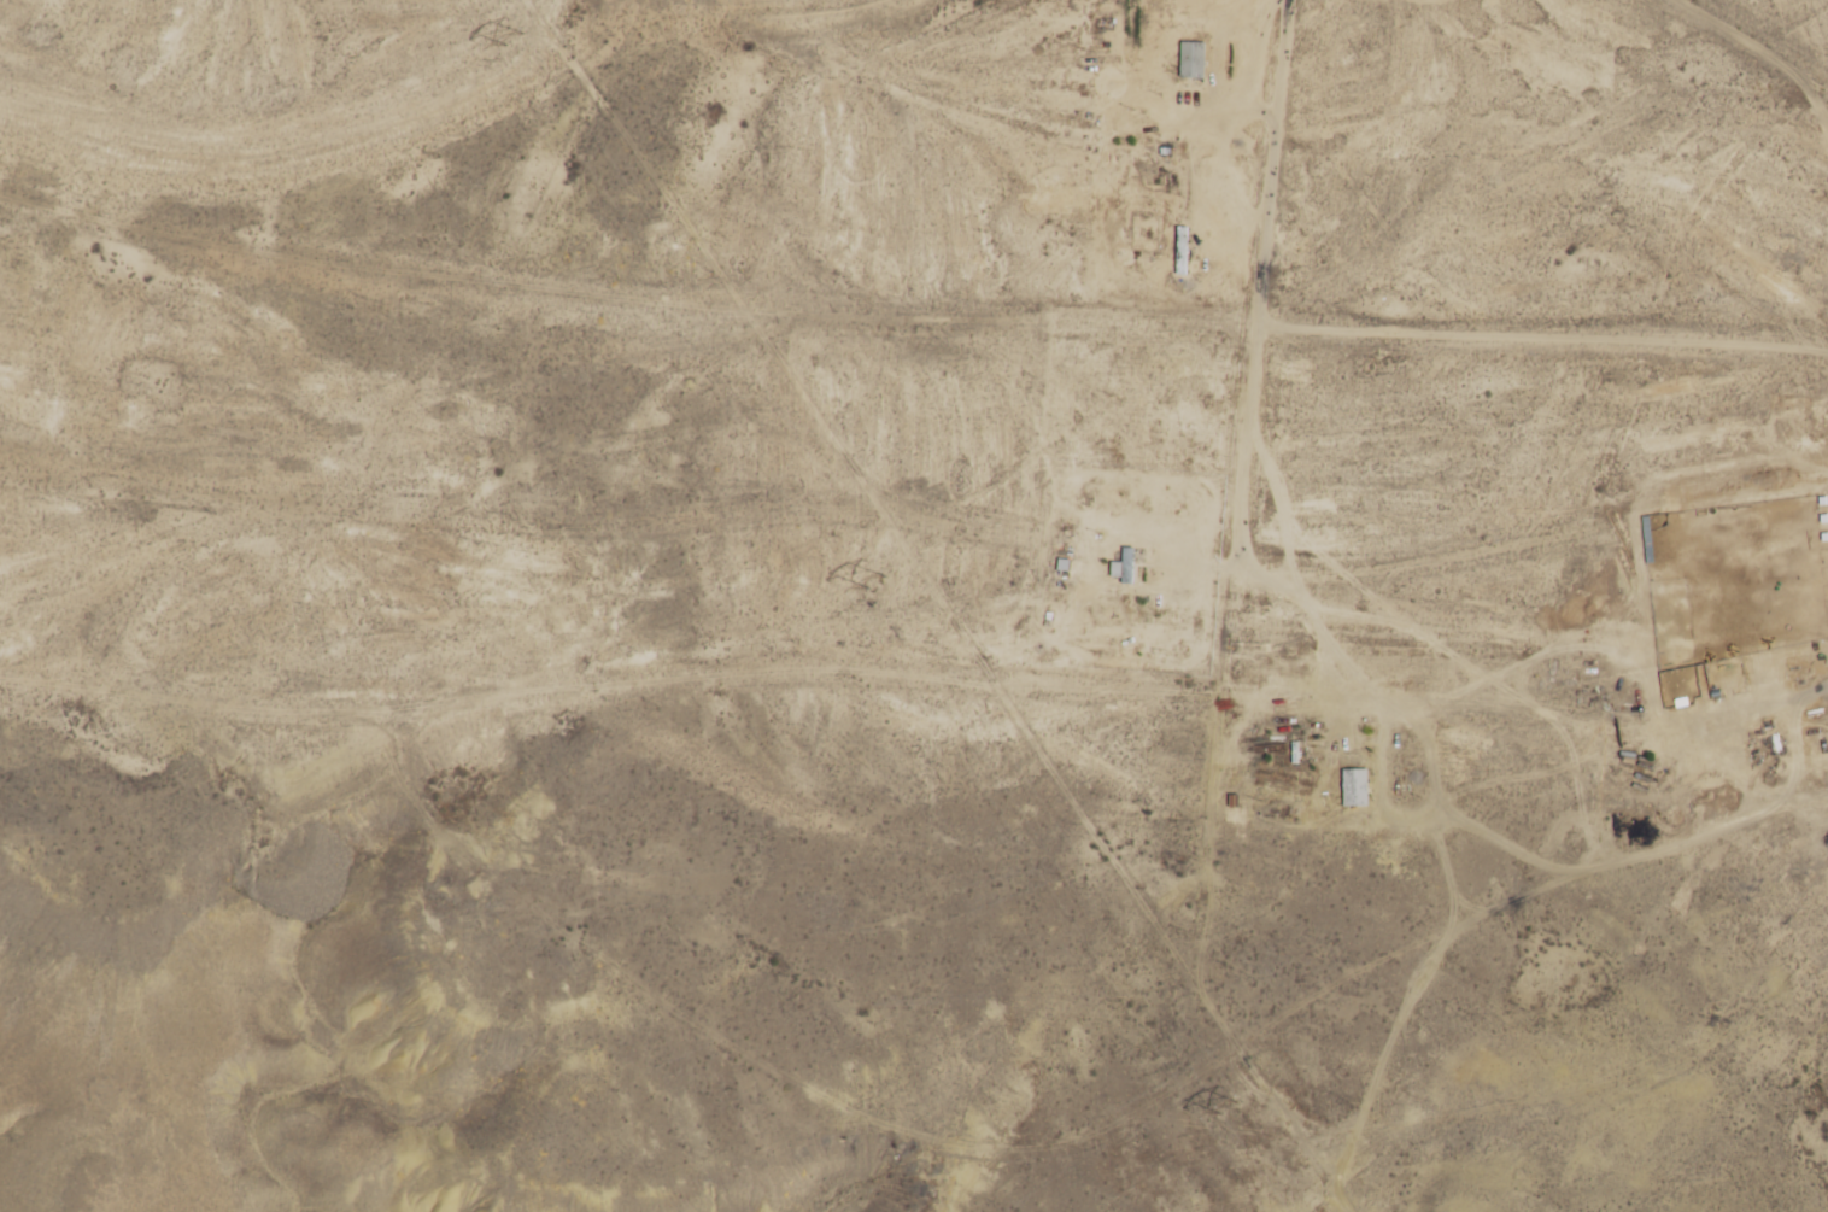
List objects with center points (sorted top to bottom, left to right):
power tower: (516, 36)
road: (1746, 46)
building: (1193, 59)
road: (1815, 105)
road: (314, 115)
road: (1270, 162)
road: (910, 251)
road: (1541, 349)
road: (1010, 519)
building: (1129, 566)
power tower: (877, 579)
building: (1354, 786)
power tower: (1228, 1102)

